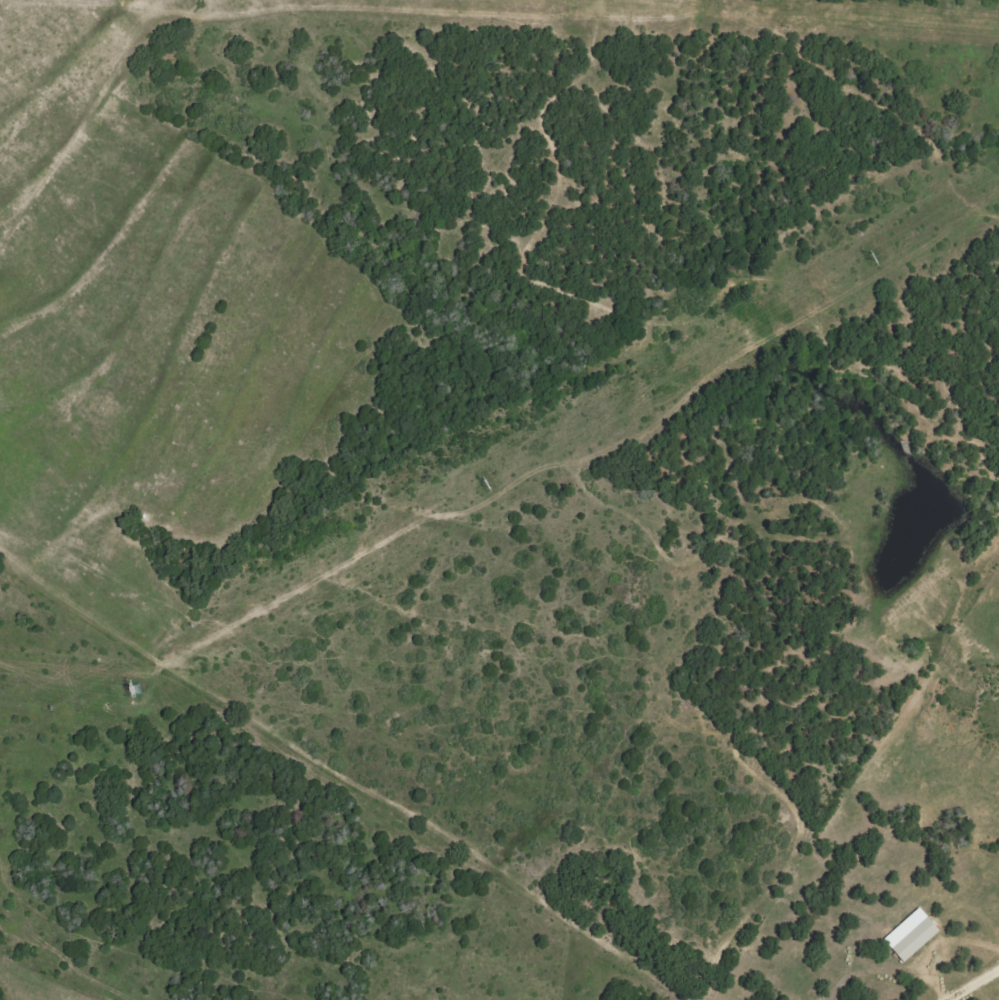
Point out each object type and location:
power tower: (864, 258)
power tower: (479, 482)
power tower: (127, 688)
building: (922, 939)
road: (966, 981)

